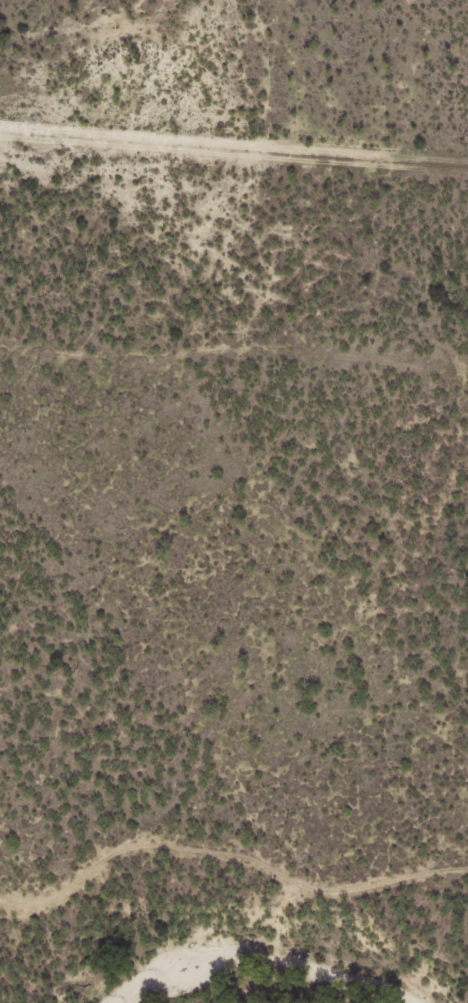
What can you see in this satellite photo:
road: (233, 867)

